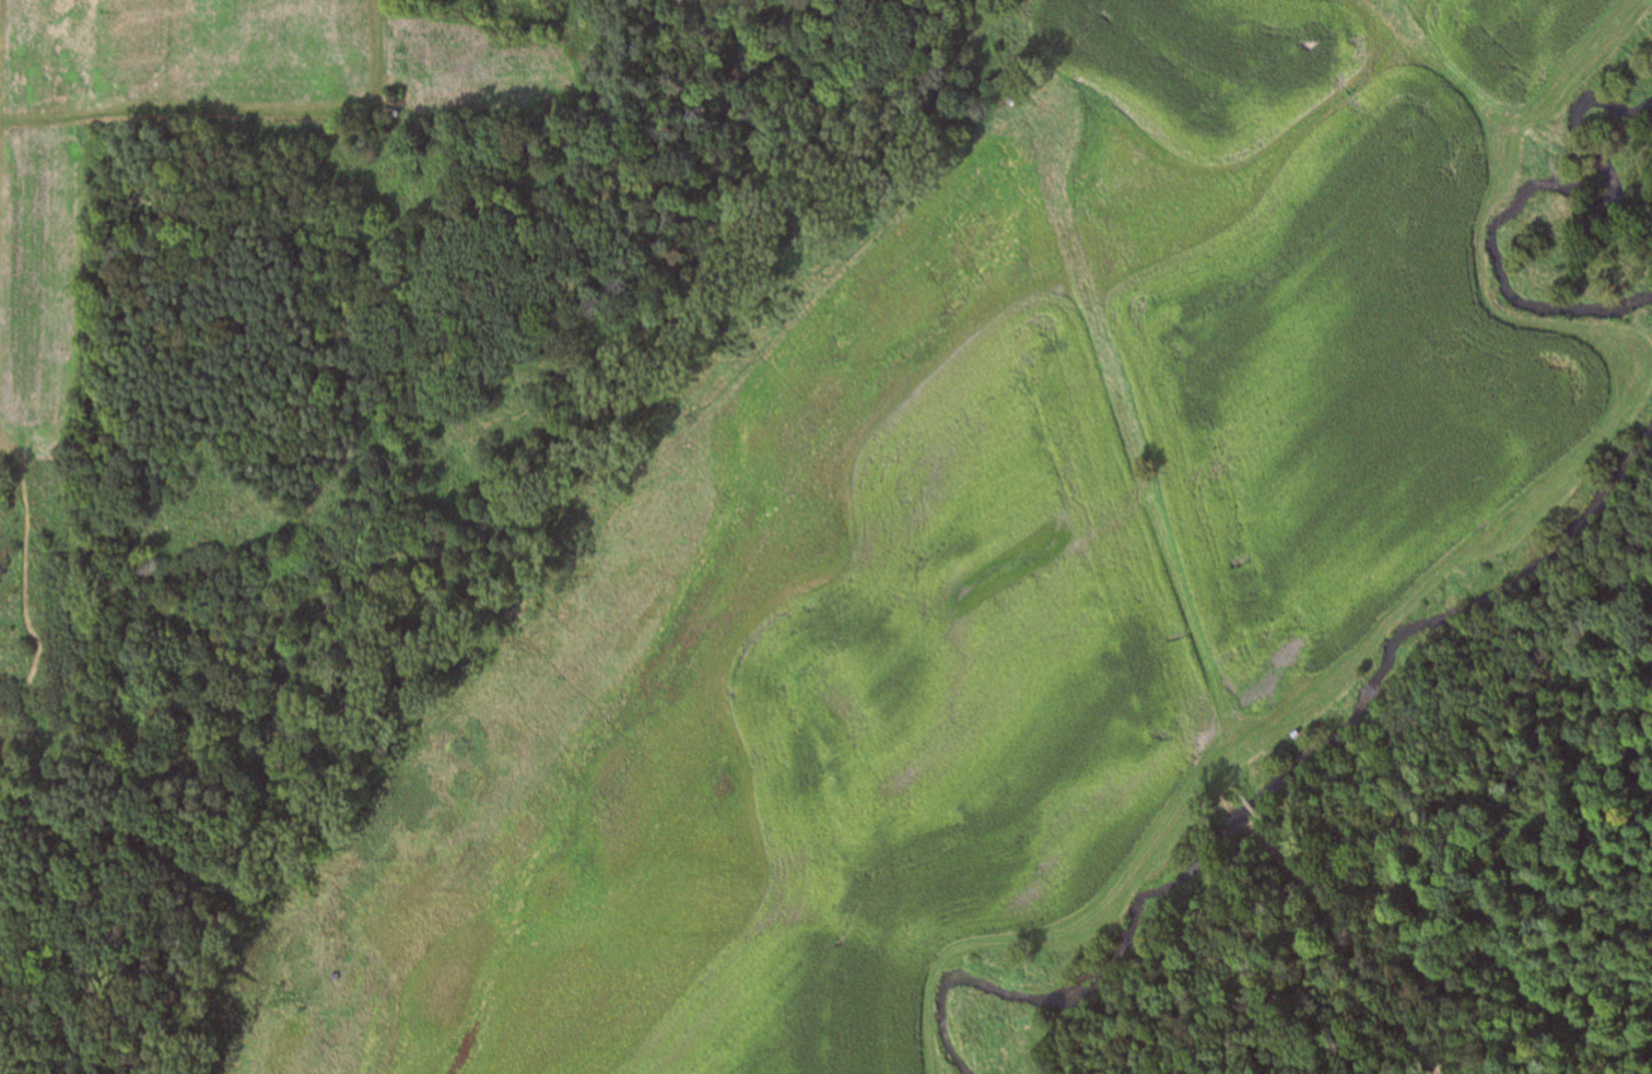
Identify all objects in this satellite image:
road: (1329, 933)

